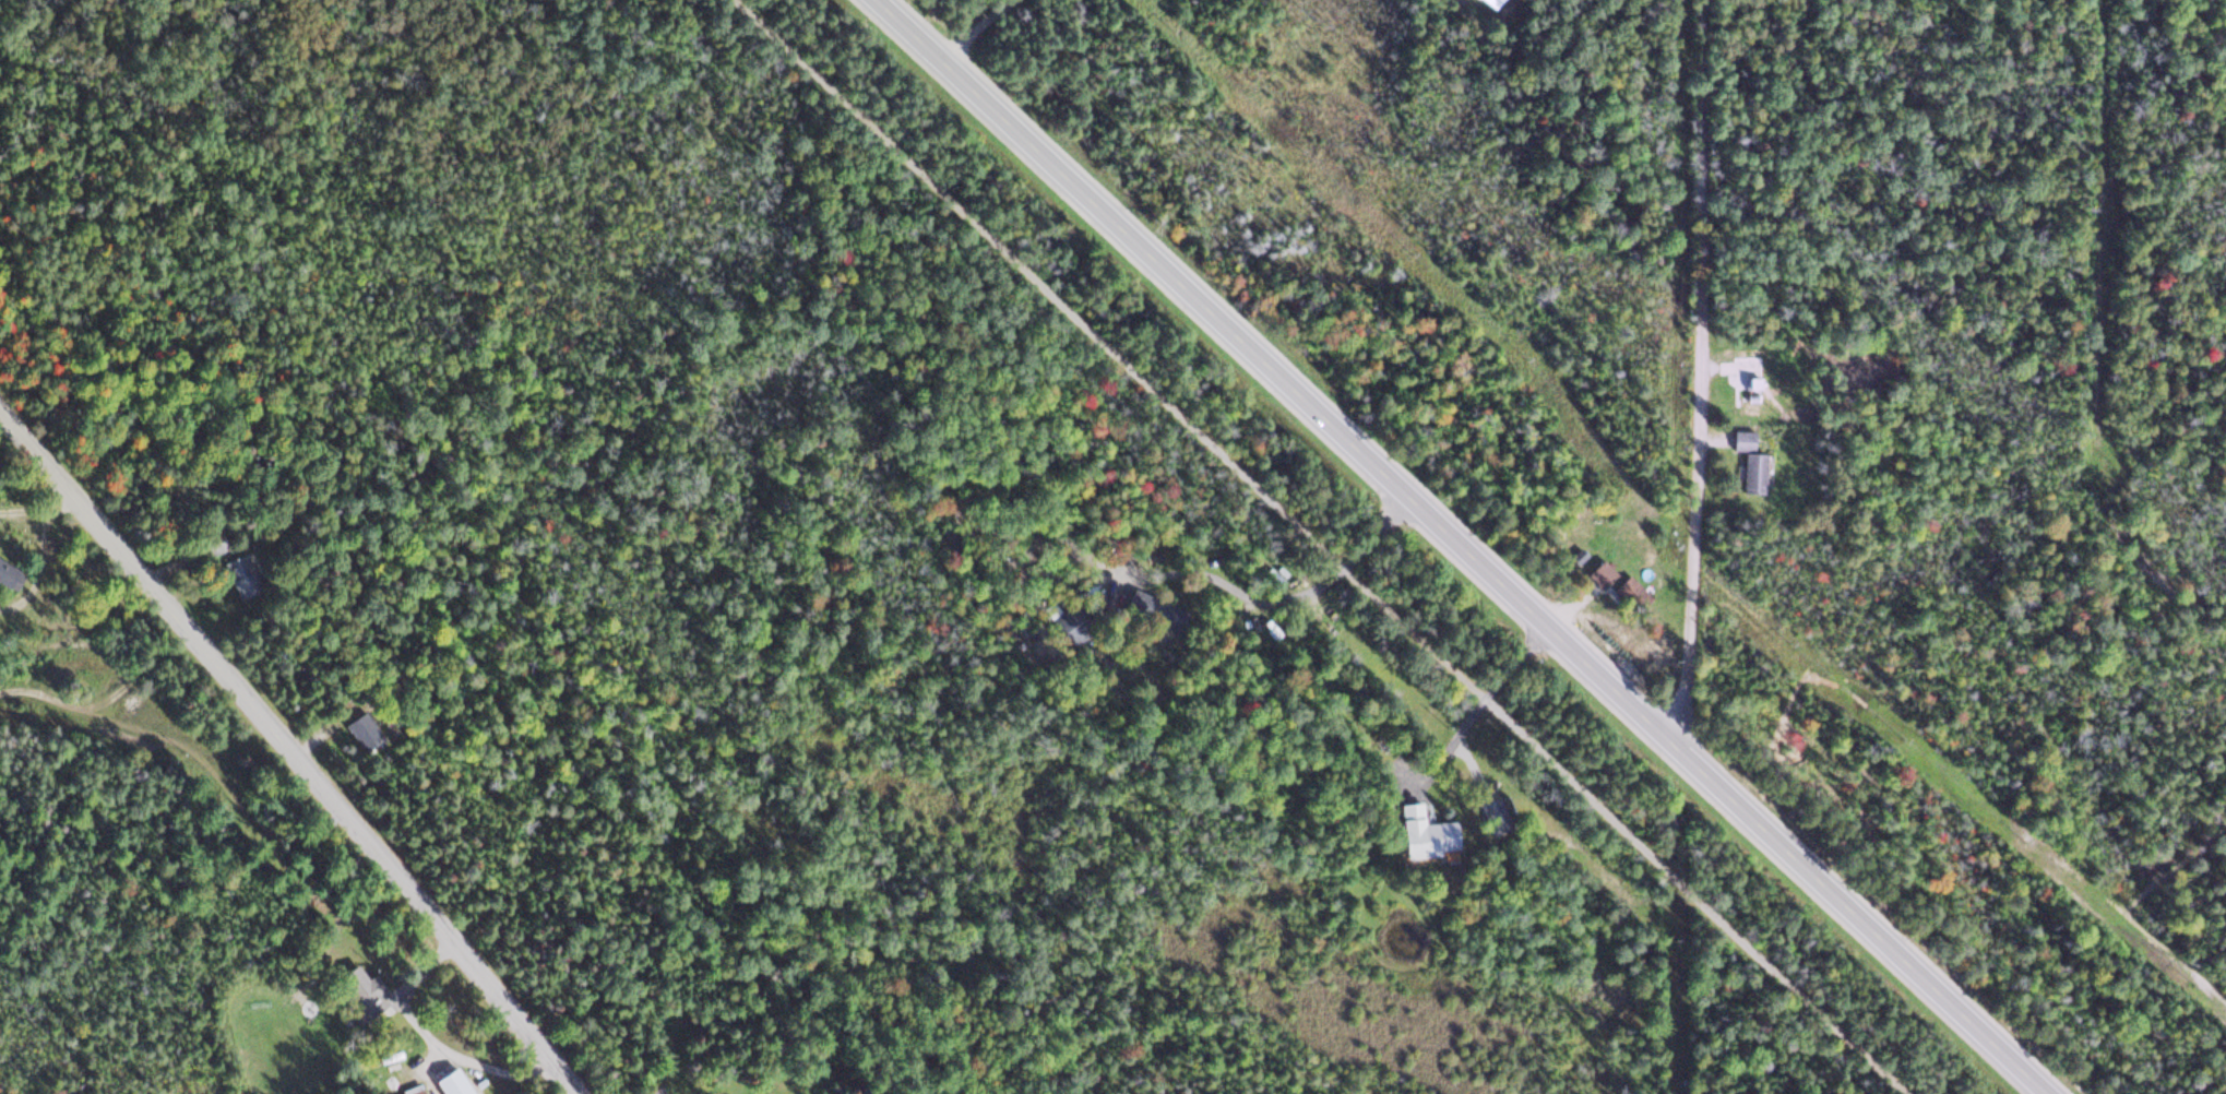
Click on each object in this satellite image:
road: (985, 33)
road: (1695, 373)
building: (1740, 439)
building: (1750, 472)
building: (215, 543)
road: (1316, 546)
road: (1461, 546)
building: (1596, 573)
building: (4, 574)
building: (238, 575)
building: (1627, 592)
road: (1281, 603)
building: (1148, 609)
road: (1472, 716)
building: (358, 729)
road: (290, 750)
building: (1421, 830)
road: (424, 966)
building: (356, 988)
building: (653, 1090)
building: (407, 1092)

